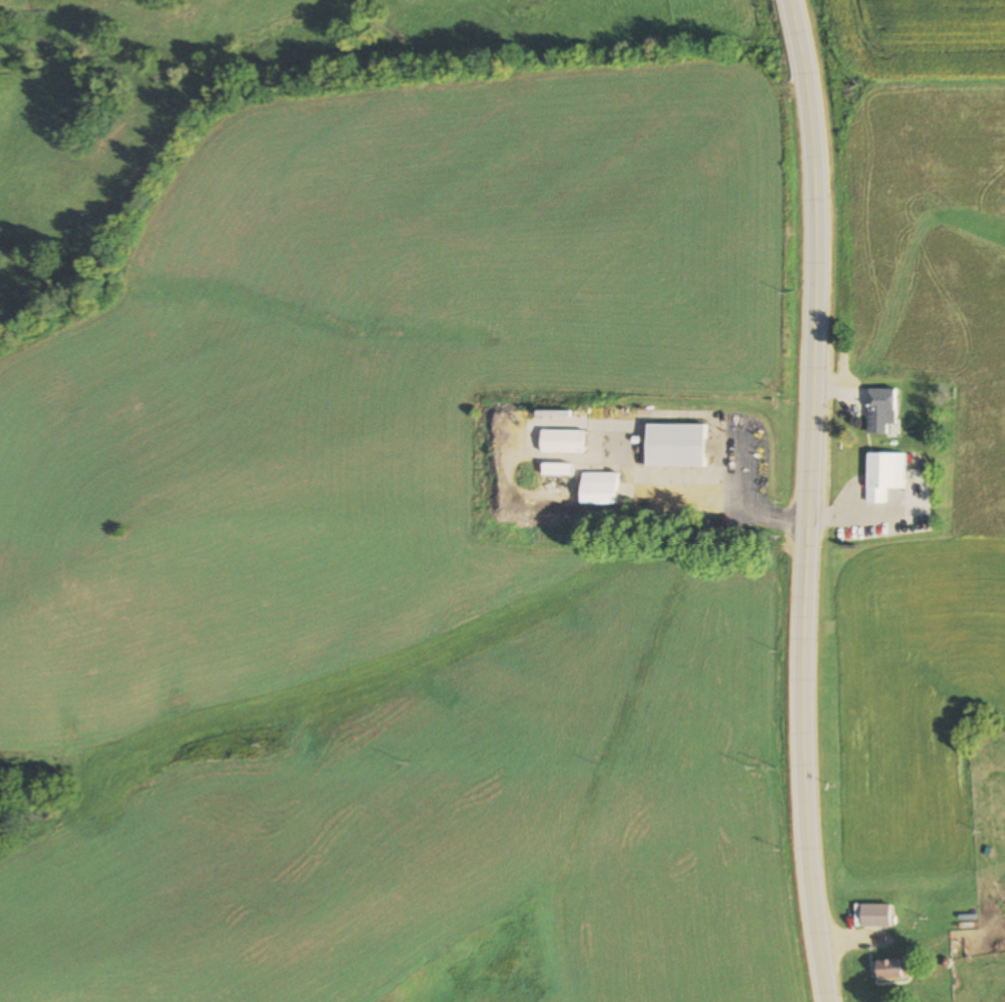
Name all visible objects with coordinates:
road: (793, 33)
building: (879, 409)
building: (565, 441)
building: (675, 445)
building: (884, 474)
road: (807, 534)
building: (874, 915)
road: (845, 940)
building: (891, 969)

